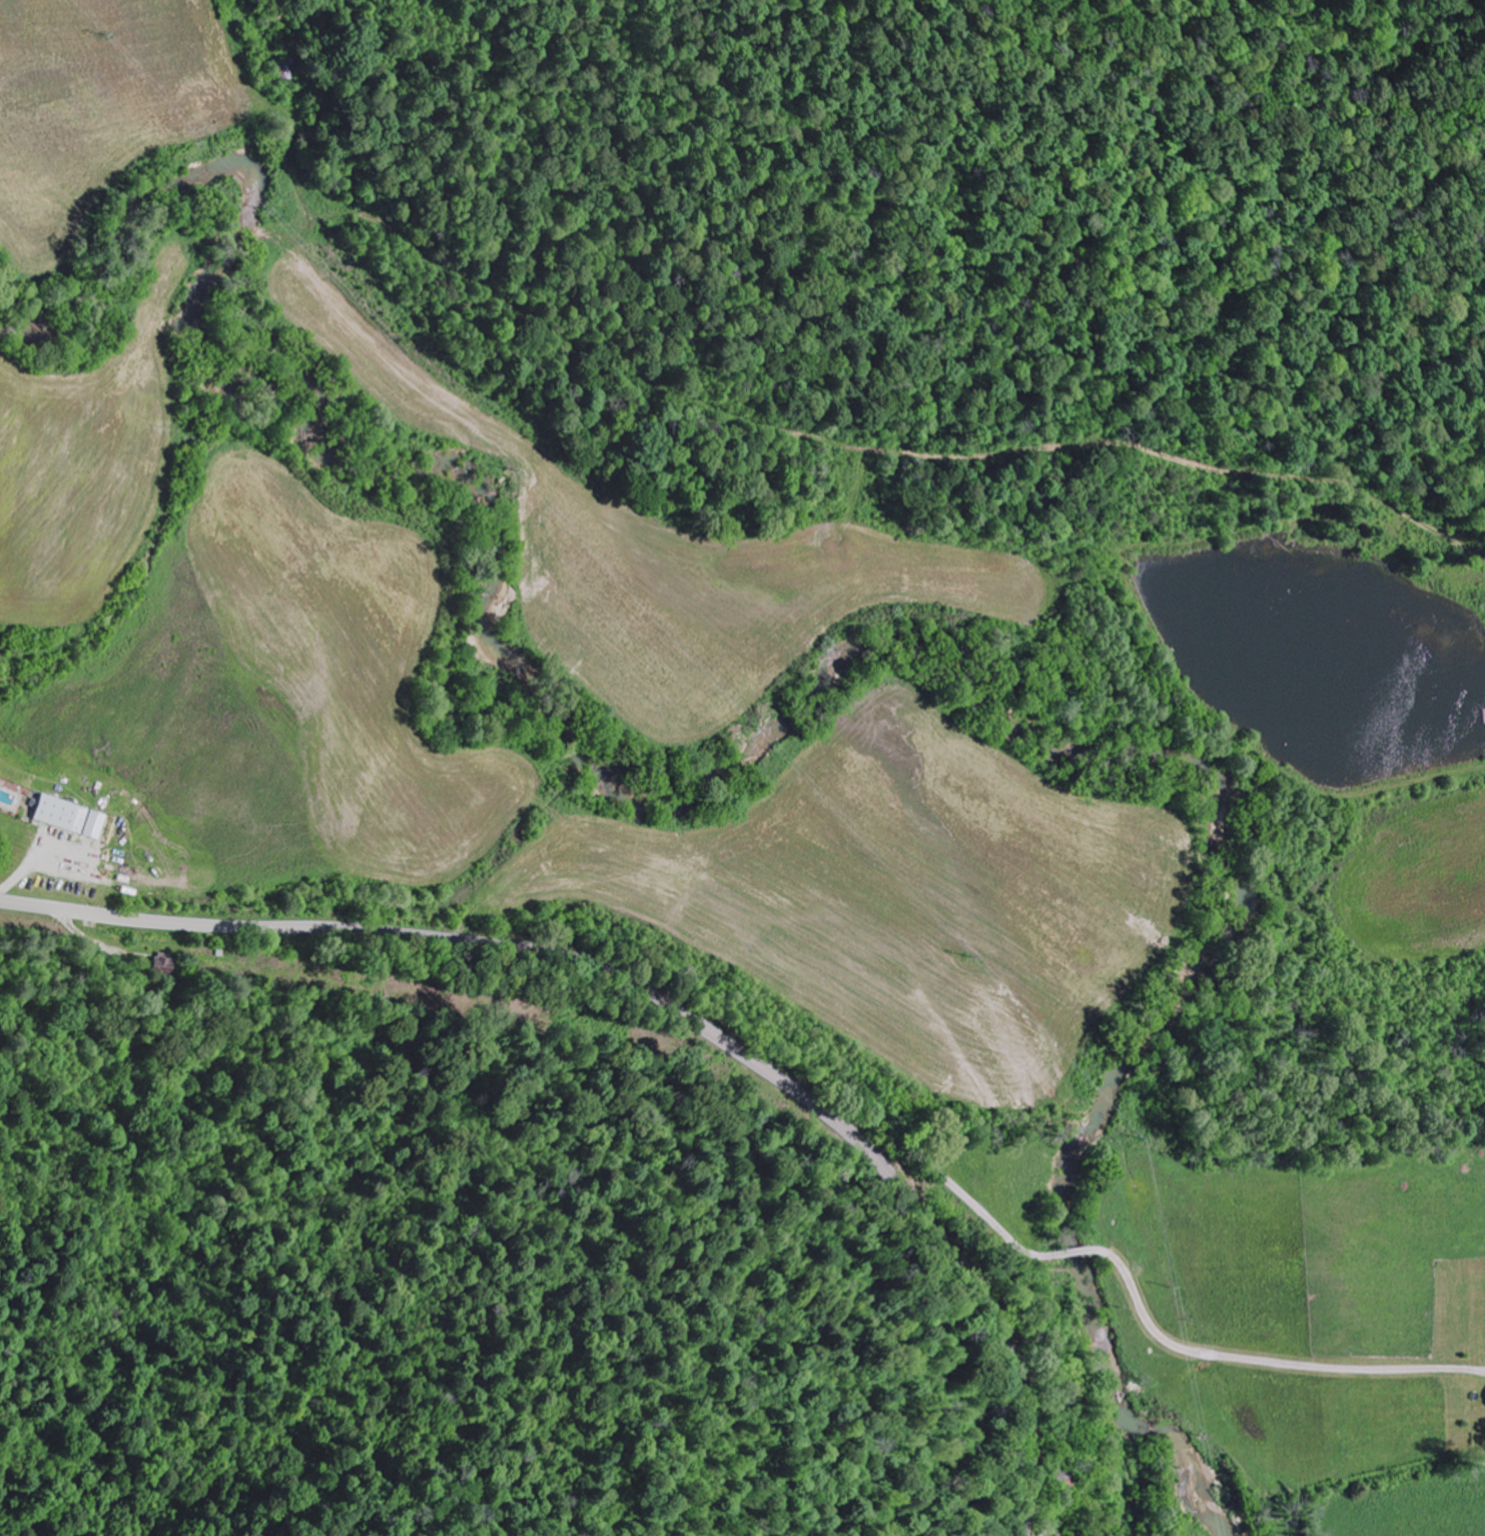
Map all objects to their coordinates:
river: (750, 761)
building: (68, 816)
road: (668, 1002)
road: (951, 1174)
road: (1074, 1252)
road: (1263, 1356)

